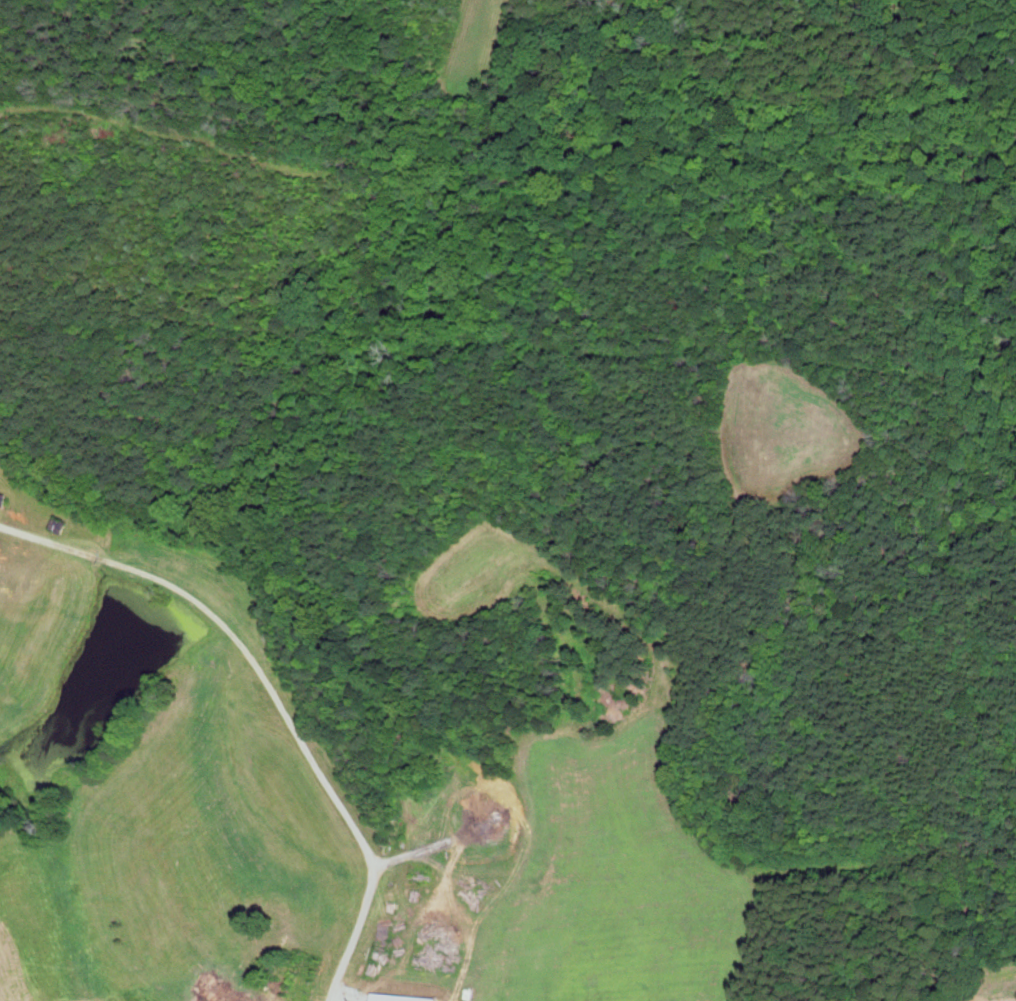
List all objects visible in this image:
road: (275, 696)

